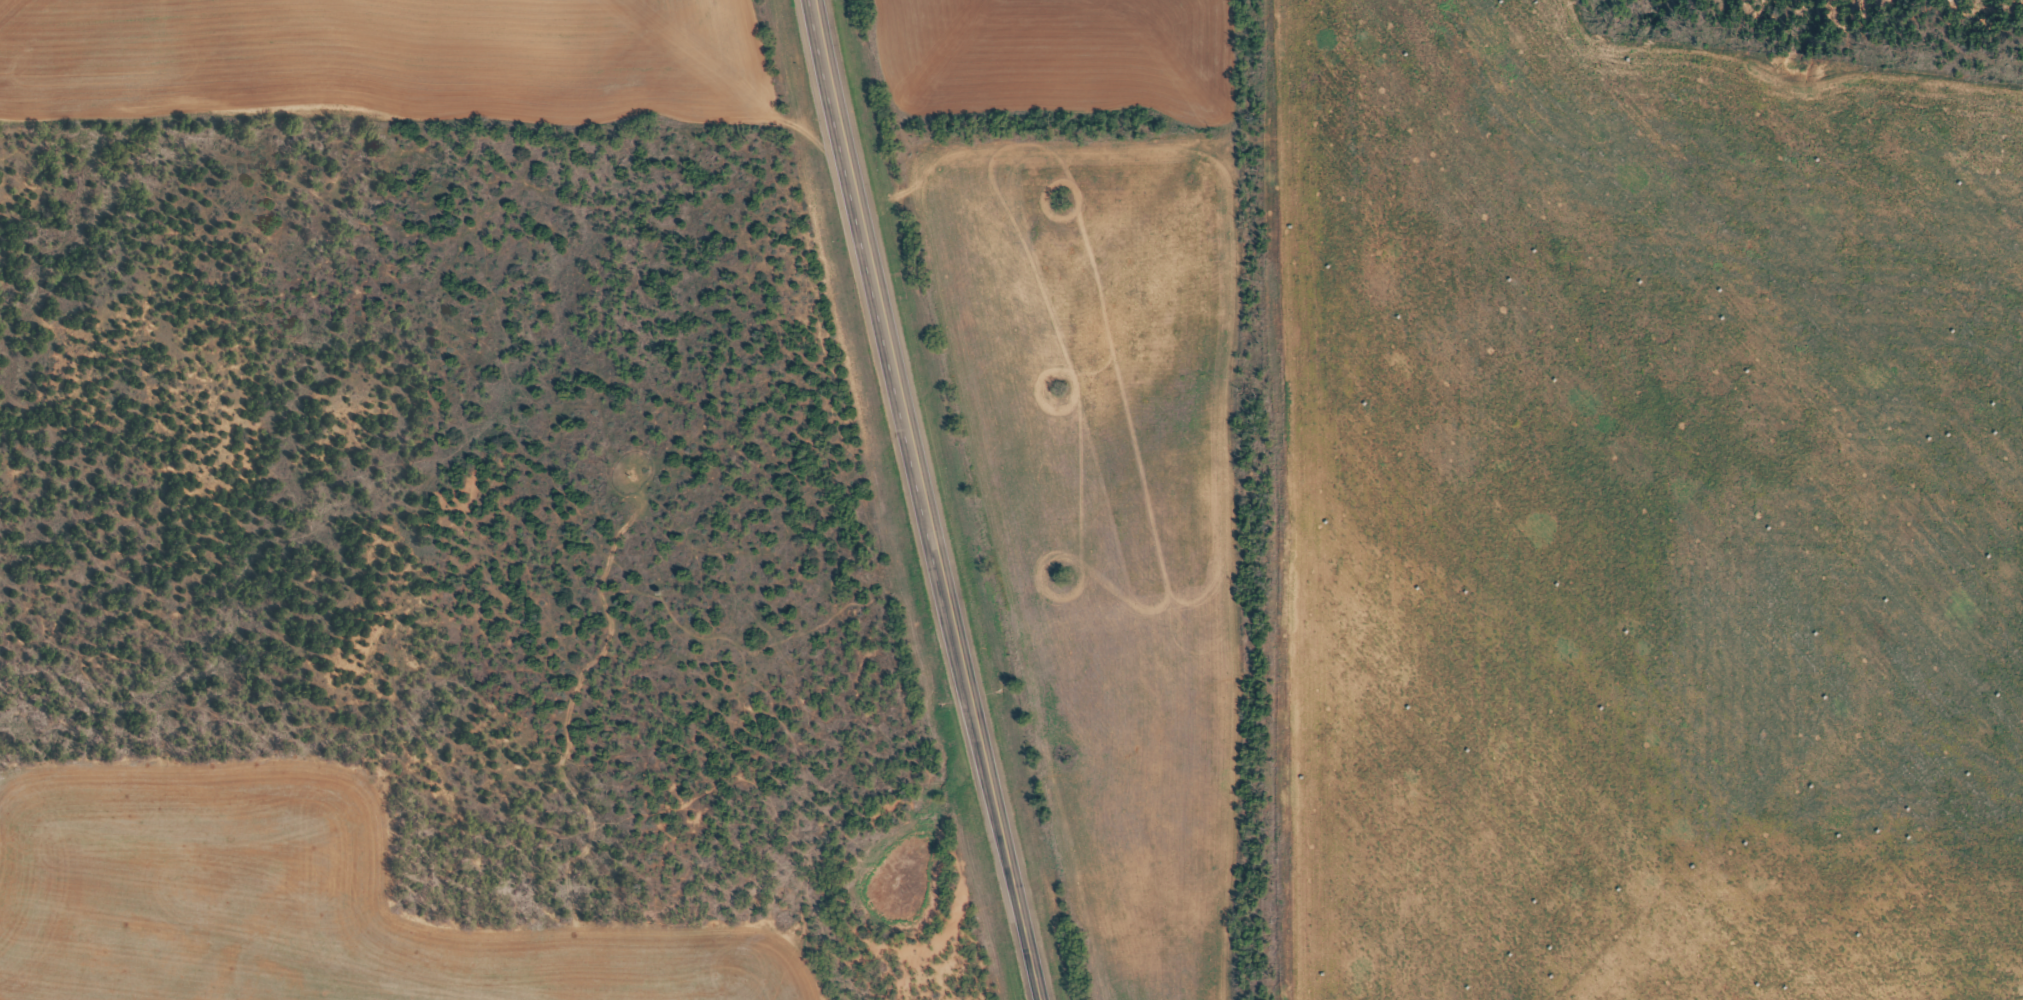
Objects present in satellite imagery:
road: (925, 499)

